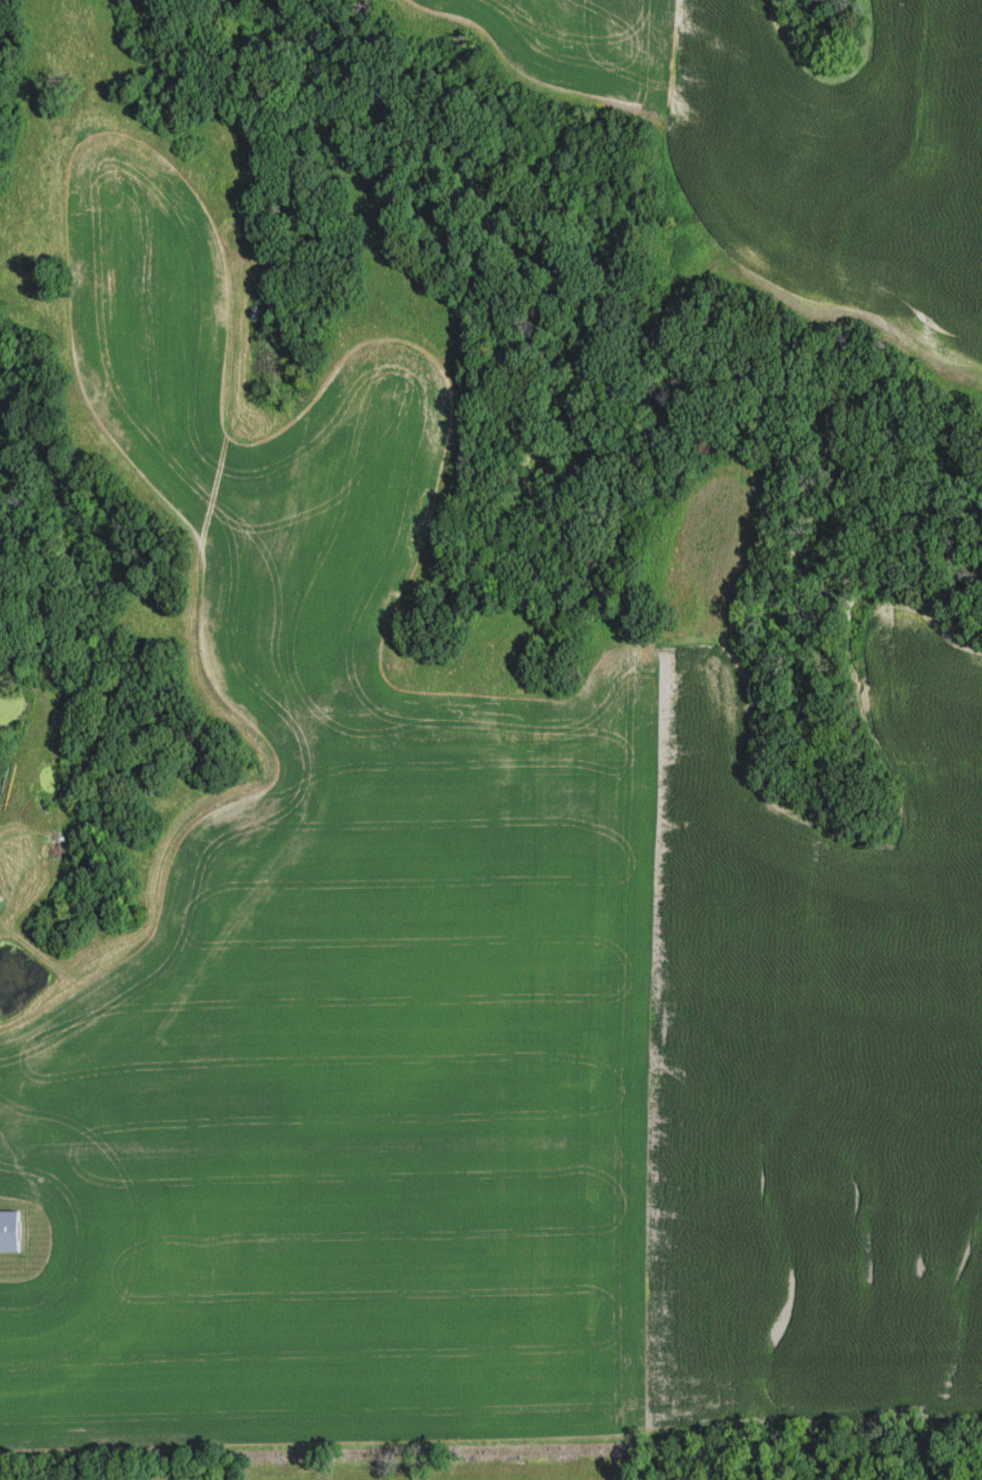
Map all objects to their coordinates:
crop: (780, 156)
crop: (921, 714)
crop: (0, 921)
crop: (475, 979)
building: (11, 1231)

